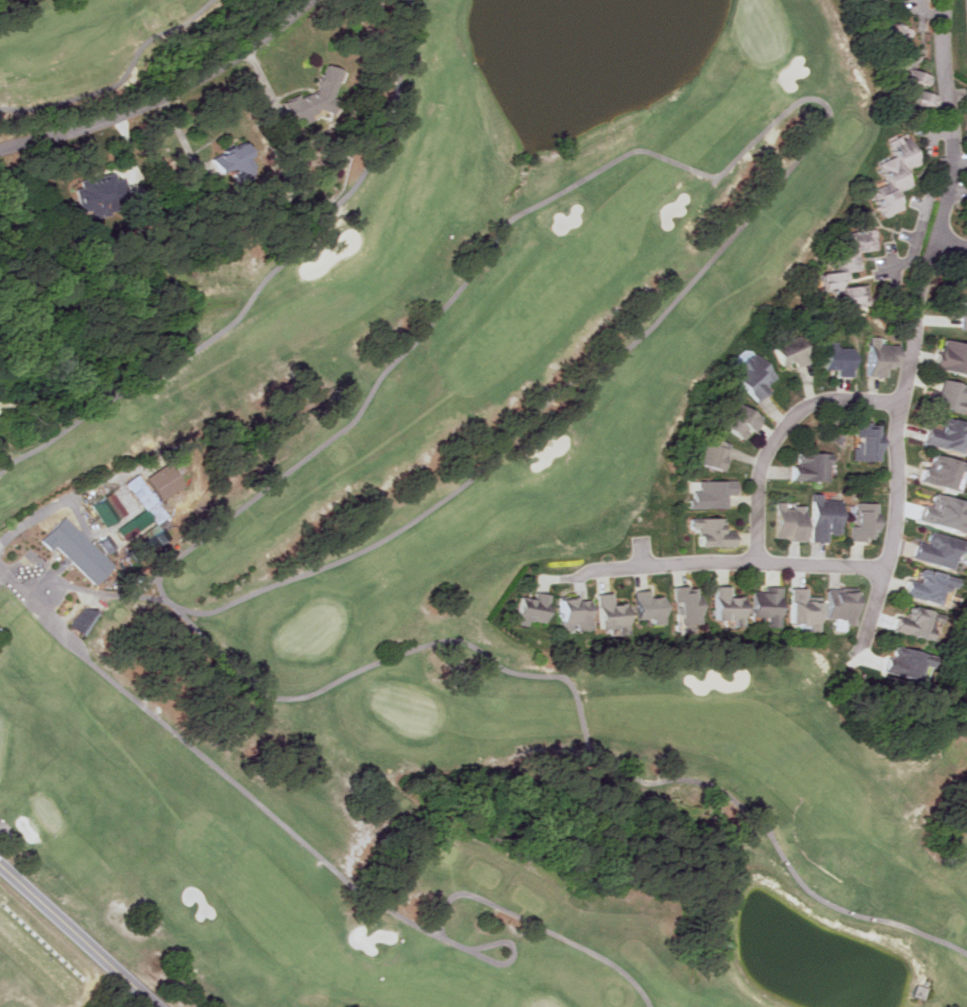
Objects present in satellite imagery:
building: (874, 0)
road: (927, 13)
building: (898, 31)
park: (93, 50)
building: (916, 80)
road: (159, 96)
building: (319, 96)
building: (238, 160)
building: (897, 175)
building: (102, 194)
road: (949, 242)
building: (851, 265)
building: (964, 314)
road: (912, 329)
building: (794, 352)
building: (953, 355)
building: (882, 356)
building: (839, 359)
building: (757, 375)
building: (951, 396)
building: (745, 421)
road: (779, 433)
building: (949, 435)
building: (869, 440)
building: (716, 454)
building: (813, 466)
building: (941, 472)
building: (166, 481)
building: (714, 493)
road: (59, 502)
building: (107, 509)
building: (946, 512)
building: (825, 518)
building: (866, 521)
building: (790, 522)
building: (713, 532)
building: (941, 549)
building: (79, 550)
road: (737, 563)
park: (463, 574)
road: (12, 585)
building: (932, 587)
building: (768, 604)
building: (844, 605)
building: (651, 606)
building: (730, 606)
building: (805, 606)
building: (535, 608)
building: (688, 608)
building: (575, 614)
building: (614, 614)
building: (918, 622)
building: (910, 663)
road: (80, 935)

